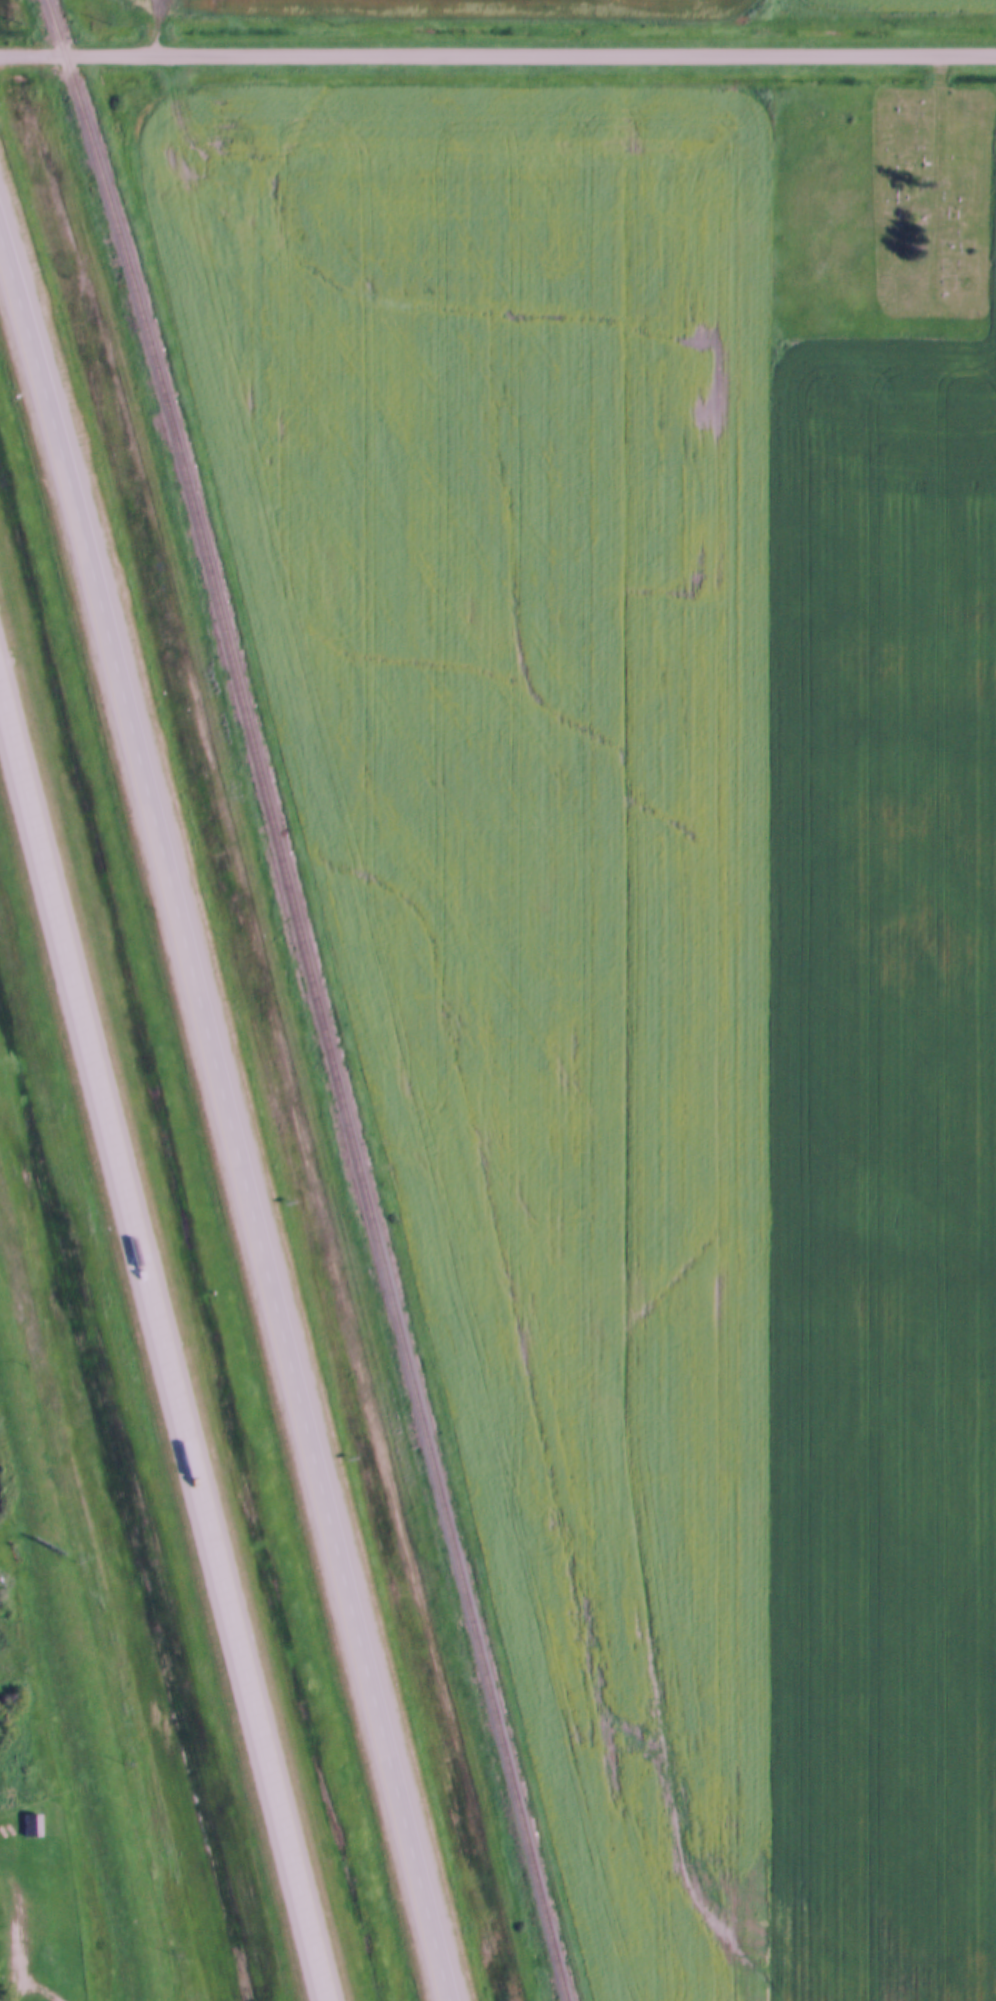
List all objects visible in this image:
park: (807, 206)
railway: (321, 997)
road: (164, 1346)
building: (31, 1822)

